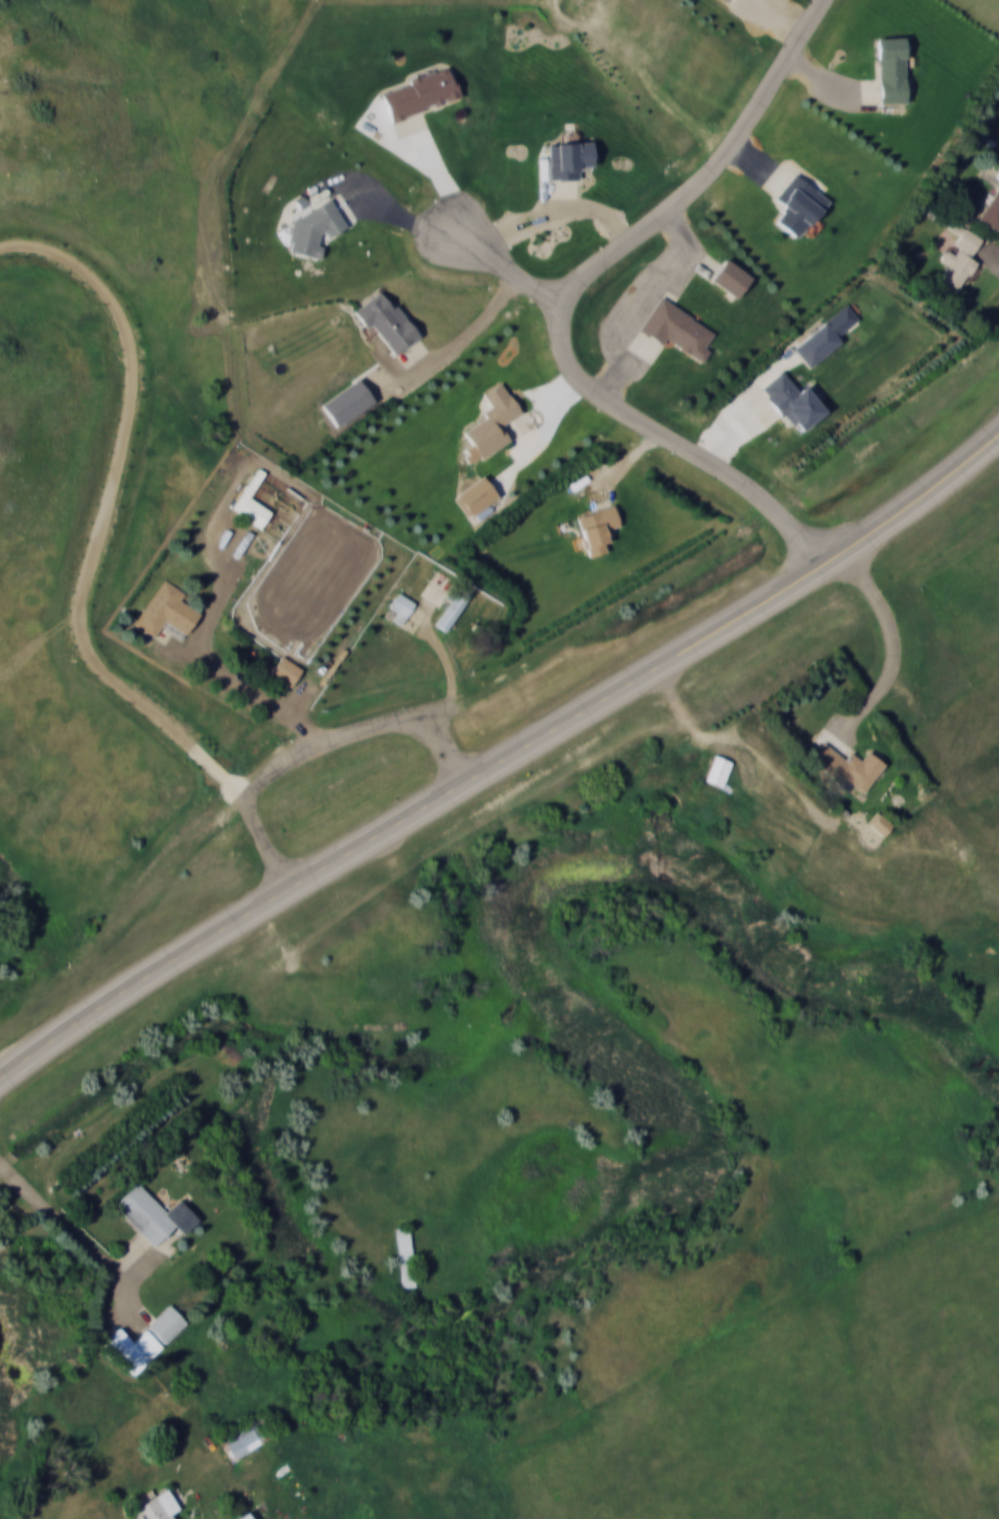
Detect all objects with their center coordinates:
building: (890, 69)
building: (419, 93)
building: (567, 159)
building: (997, 174)
building: (797, 204)
building: (991, 211)
building: (313, 228)
building: (959, 257)
road: (508, 265)
building: (729, 277)
road: (568, 296)
building: (386, 321)
building: (677, 328)
building: (824, 335)
building: (791, 401)
building: (492, 420)
building: (475, 494)
building: (251, 502)
building: (596, 527)
road: (94, 562)
building: (453, 605)
building: (401, 606)
building: (166, 609)
road: (892, 639)
building: (285, 670)
road: (285, 713)
road: (702, 733)
road: (504, 760)
building: (846, 766)
building: (716, 770)
road: (279, 771)
road: (73, 1235)
building: (405, 1256)
building: (166, 1323)

